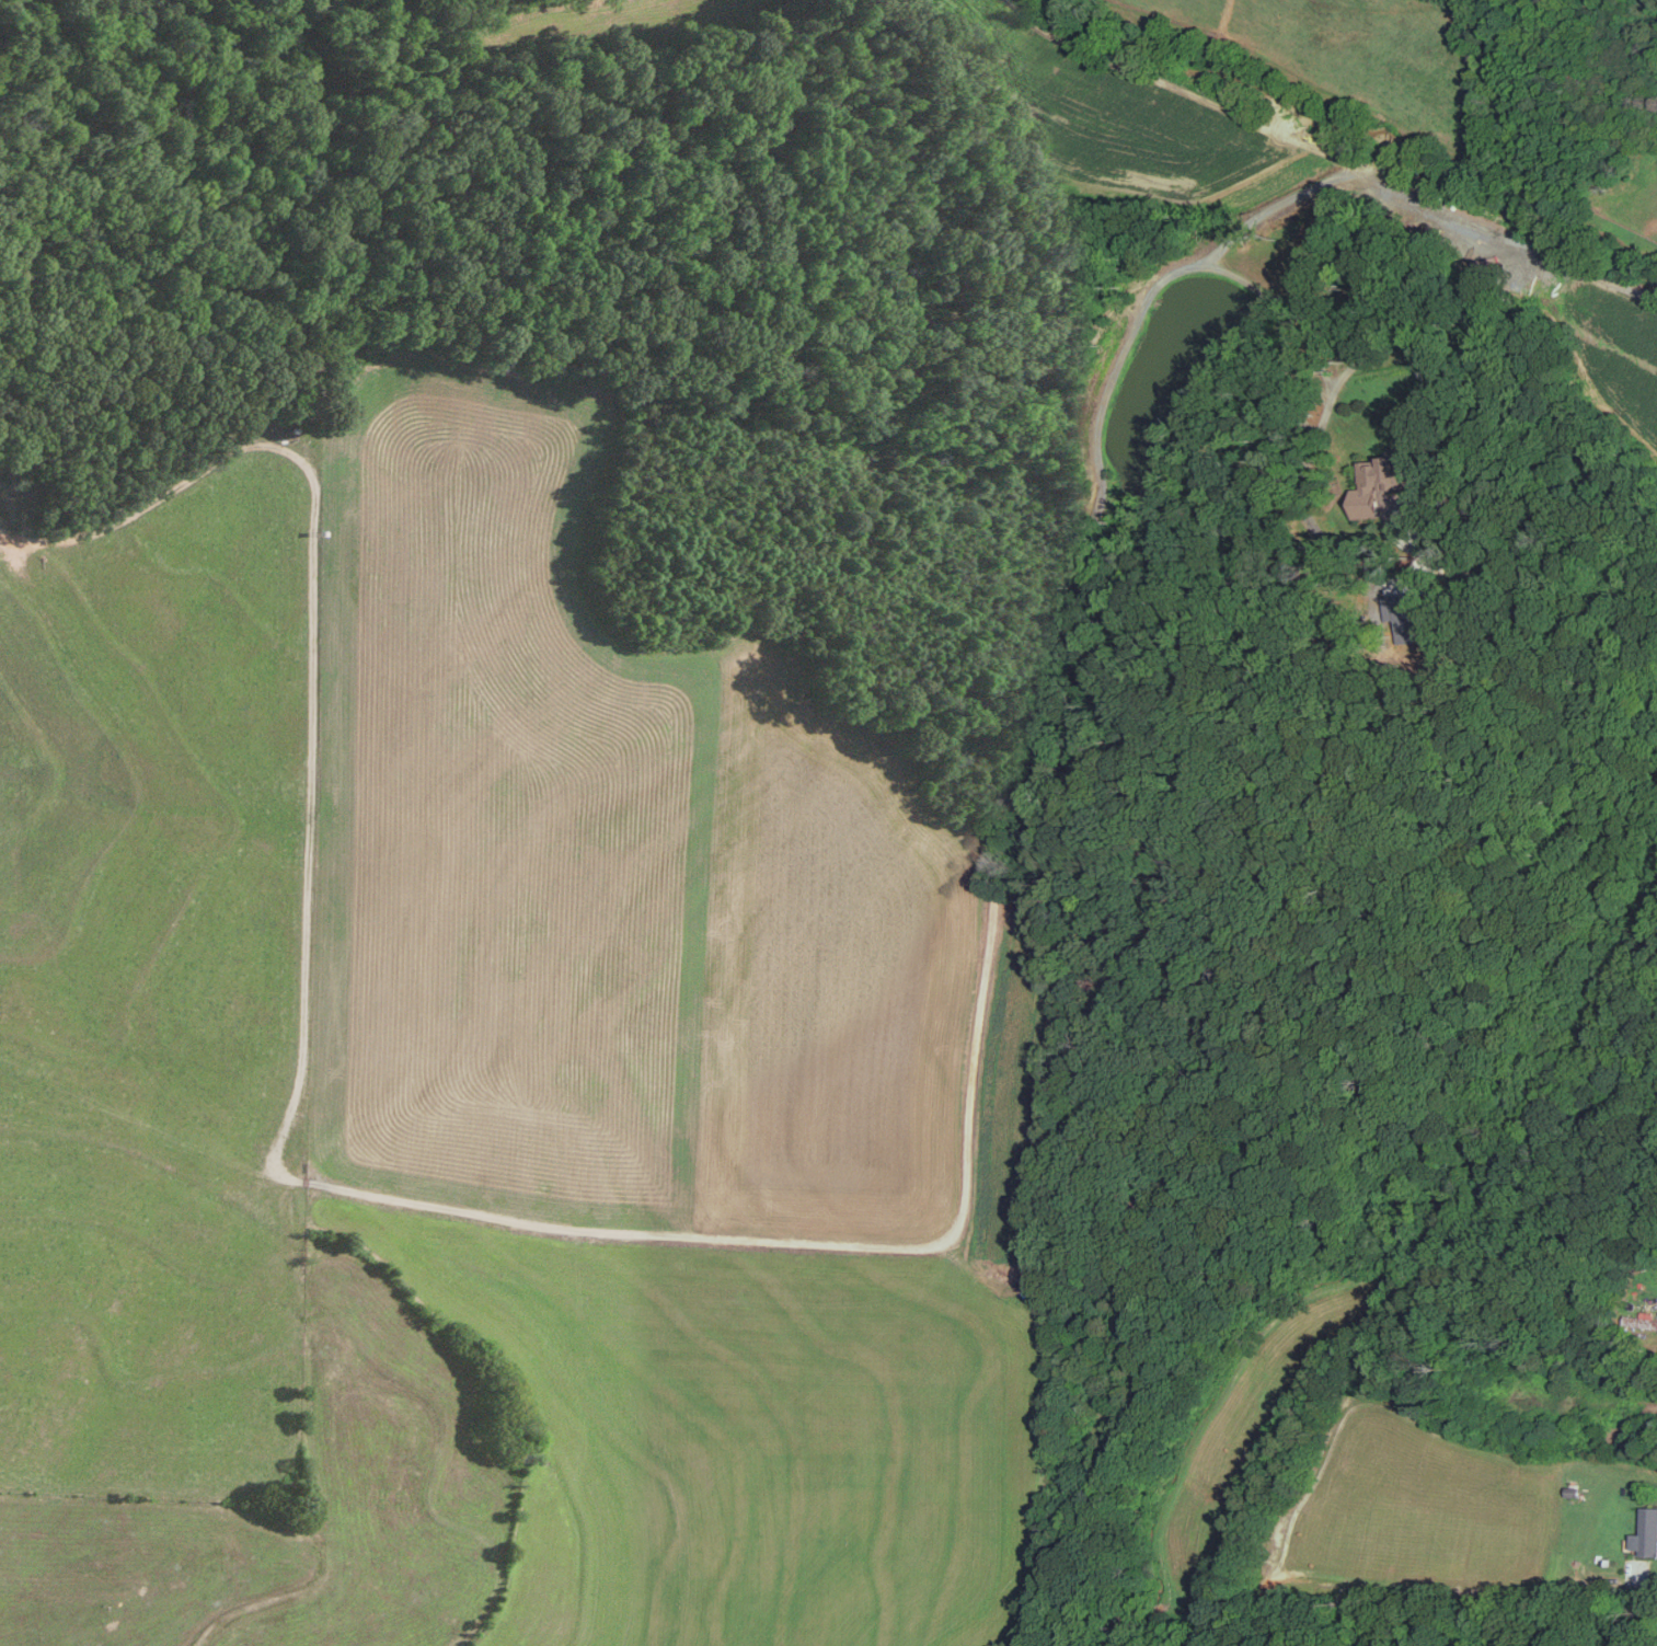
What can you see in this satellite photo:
building: (1383, 482)
road: (1538, 538)
building: (1642, 1321)
building: (1647, 1532)
road: (1639, 1585)

